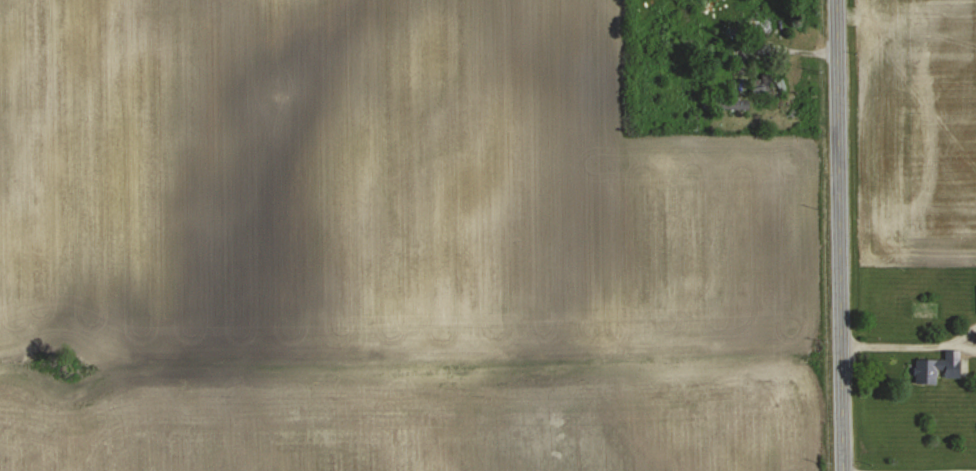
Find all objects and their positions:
building: (767, 83)
building: (726, 101)
road: (841, 235)
building: (938, 366)
road: (929, 469)

